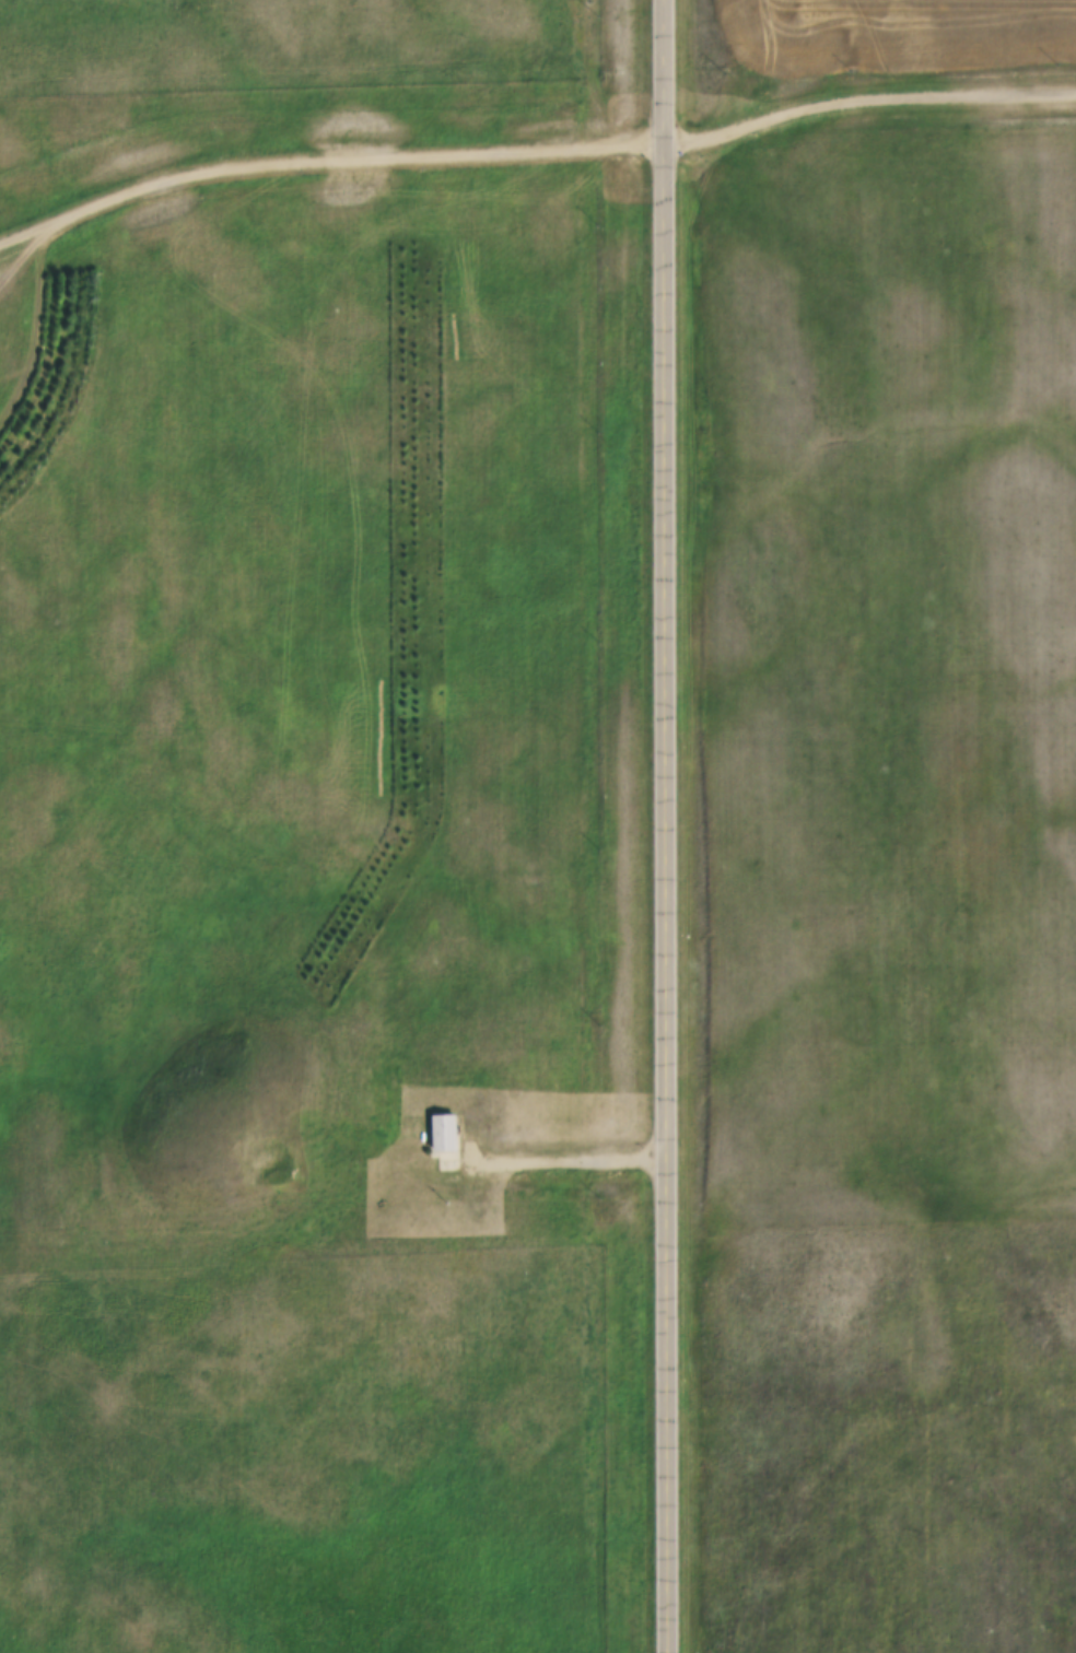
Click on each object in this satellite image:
road: (328, 160)
road: (669, 826)
building: (446, 1140)
road: (569, 1158)

